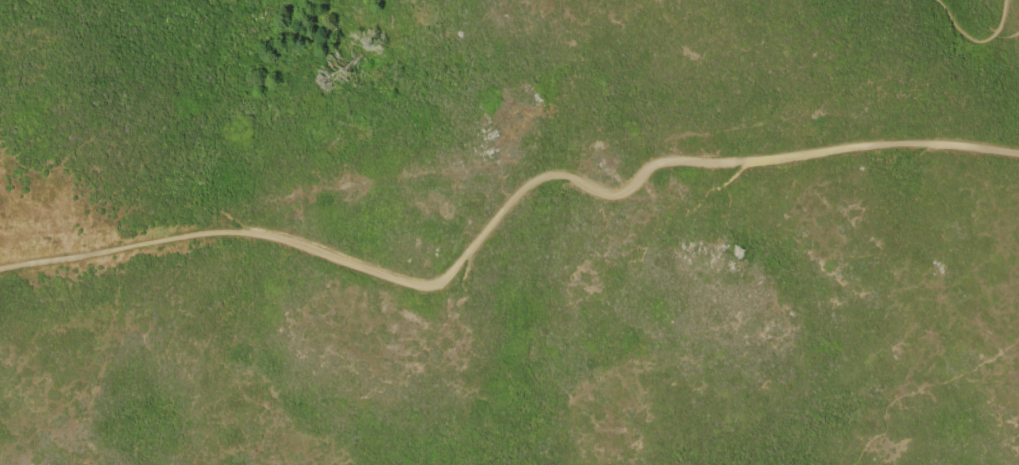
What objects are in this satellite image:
road: (974, 40)
road: (505, 211)

